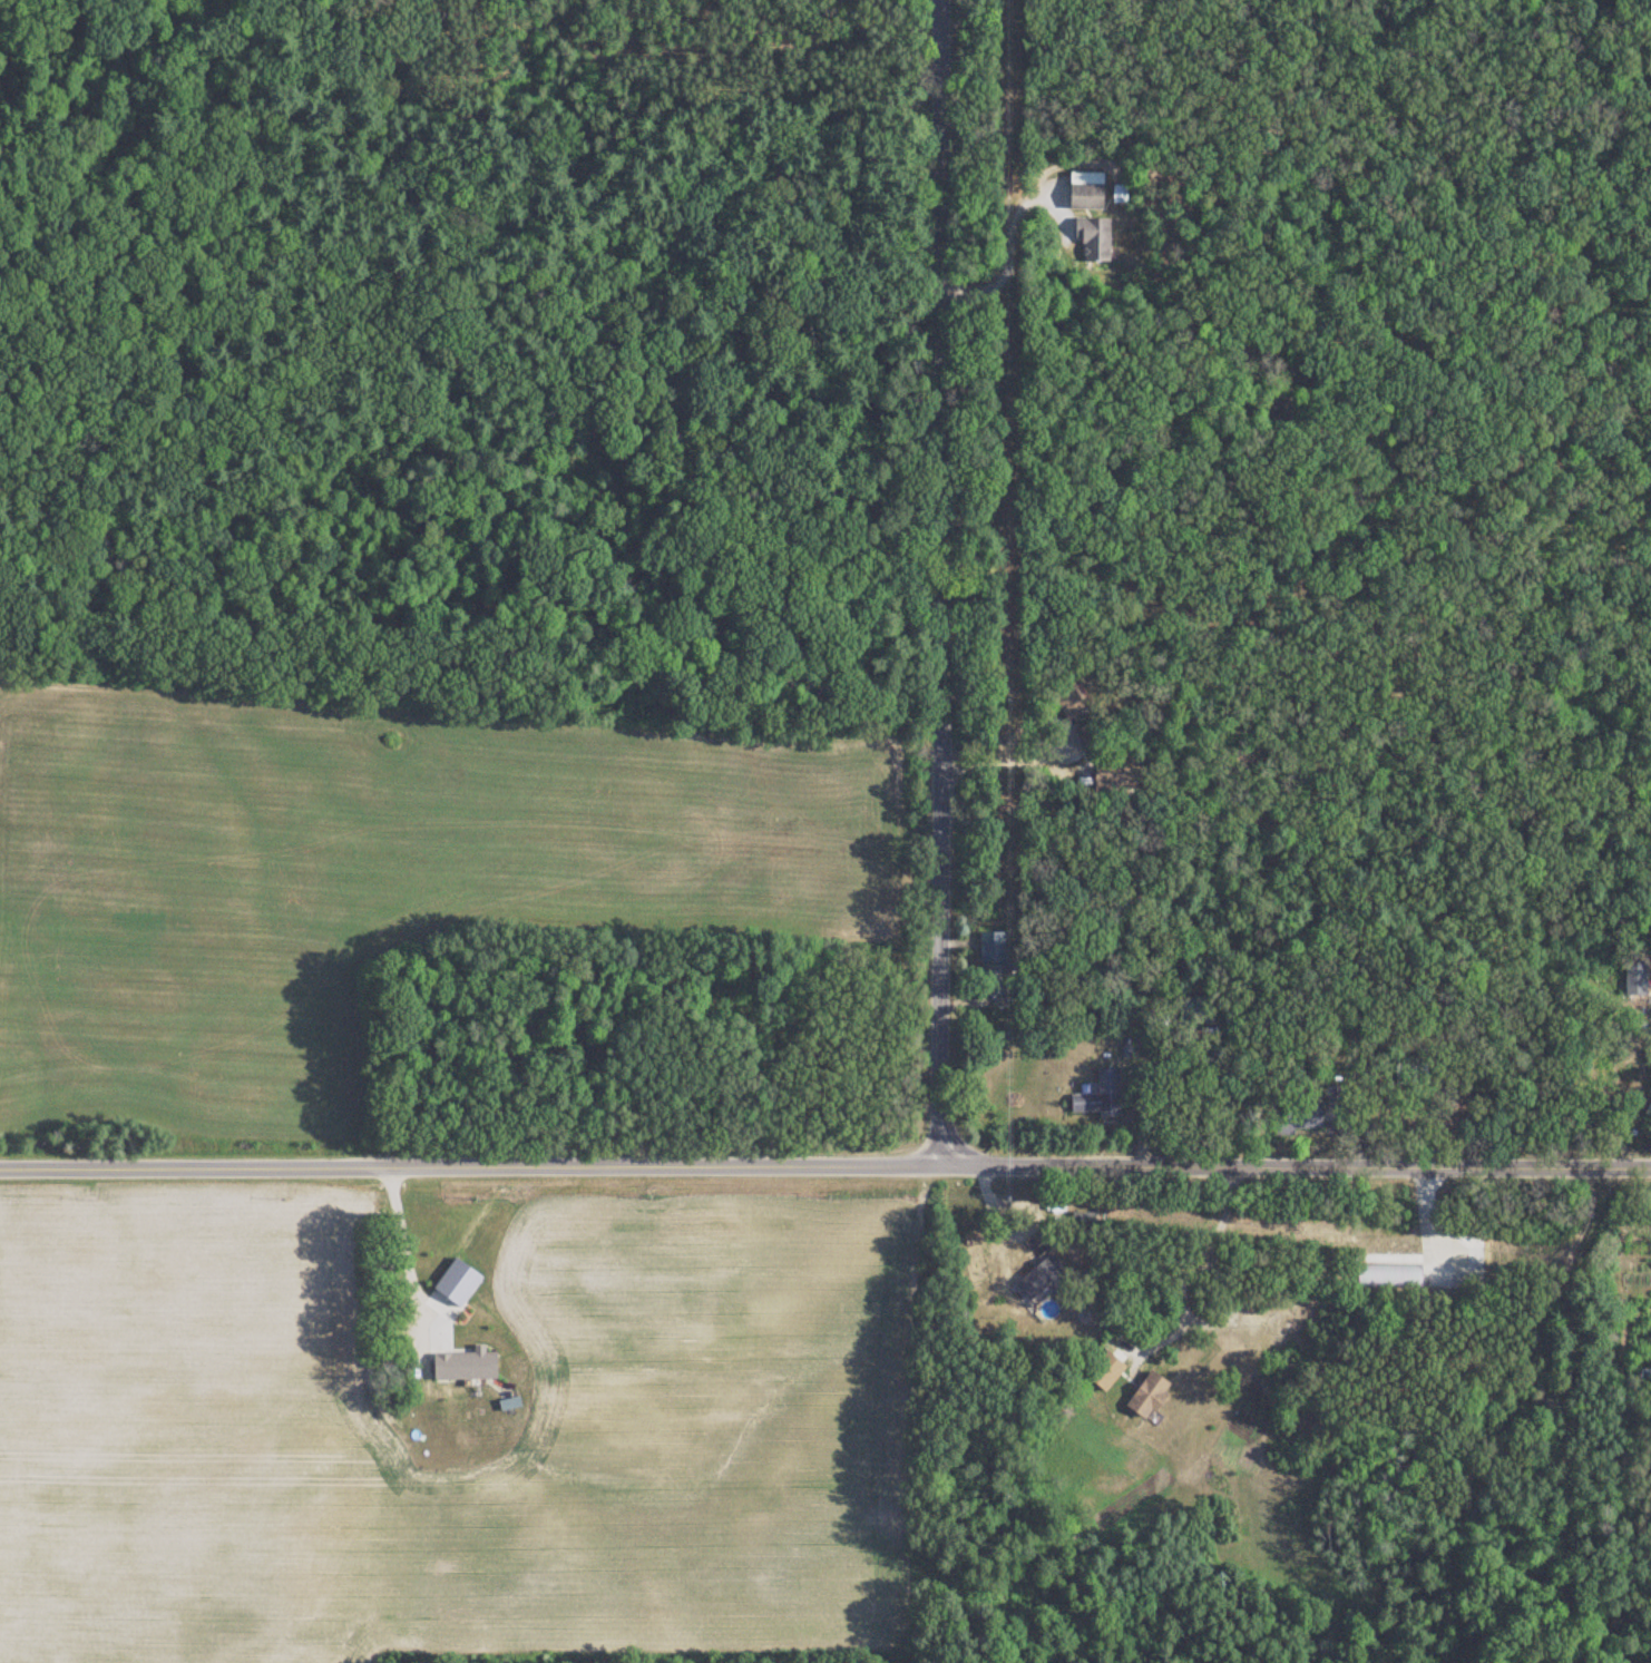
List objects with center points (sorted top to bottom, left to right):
building: (1084, 198)
building: (1090, 241)
road: (1003, 248)
road: (937, 581)
road: (1039, 715)
building: (987, 956)
building: (1098, 1097)
road: (825, 1164)
road: (403, 1240)
road: (1180, 1275)
building: (1387, 1276)
building: (1039, 1280)
road: (1233, 1282)
building: (1147, 1395)

